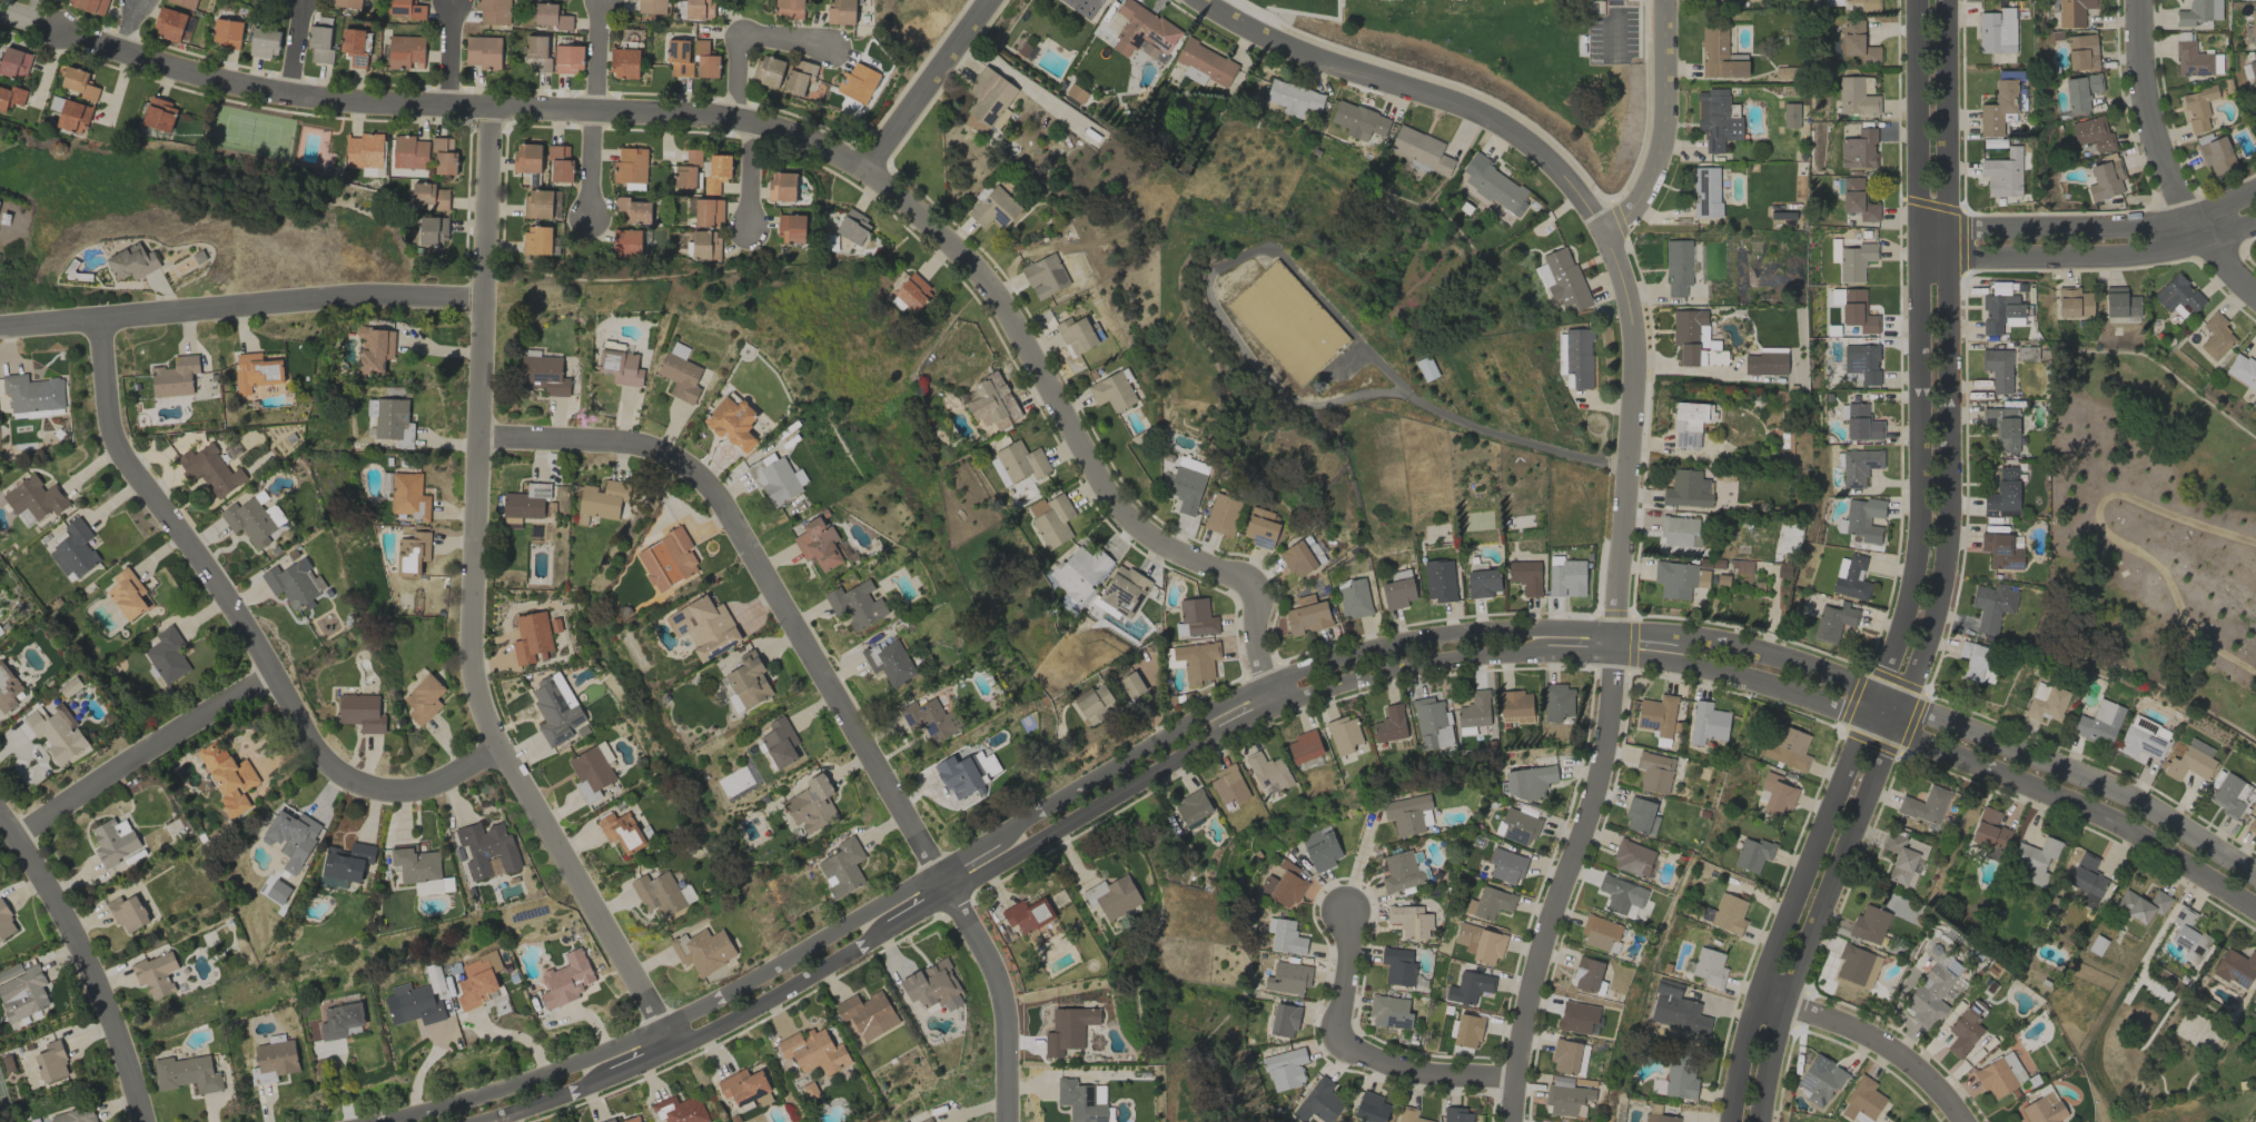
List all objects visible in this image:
building: (184, 2)
building: (346, 3)
building: (89, 4)
building: (1864, 4)
building: (651, 6)
building: (1084, 6)
building: (699, 9)
building: (789, 9)
road: (31, 10)
building: (405, 10)
building: (494, 11)
building: (841, 11)
building: (2072, 12)
building: (2194, 13)
road: (17, 17)
building: (551, 17)
road: (1615, 22)
building: (169, 23)
road: (128, 24)
building: (2253, 26)
building: (1139, 29)
building: (1997, 31)
building: (227, 33)
road: (740, 36)
building: (264, 42)
building: (1858, 42)
building: (319, 43)
road: (296, 47)
building: (353, 47)
building: (405, 51)
building: (483, 51)
road: (451, 52)
building: (537, 52)
building: (2081, 52)
building: (1719, 54)
road: (594, 57)
building: (568, 58)
building: (679, 59)
building: (704, 60)
building: (2191, 60)
building: (13, 62)
building: (624, 62)
building: (1205, 64)
building: (768, 71)
building: (2254, 76)
building: (799, 77)
building: (77, 82)
building: (858, 82)
road: (930, 87)
road: (1423, 91)
building: (2080, 92)
building: (1075, 93)
building: (11, 97)
building: (990, 97)
building: (1857, 97)
building: (1293, 98)
building: (2255, 103)
building: (2198, 108)
building: (1997, 109)
building: (159, 115)
building: (1790, 115)
building: (73, 116)
building: (1715, 119)
building: (1358, 120)
road: (1660, 122)
park: (249, 132)
building: (2091, 133)
road: (811, 142)
building: (1419, 149)
building: (363, 150)
building: (1859, 150)
building: (409, 152)
building: (443, 155)
building: (526, 158)
building: (560, 162)
road: (2163, 162)
building: (630, 166)
road: (590, 167)
building: (702, 171)
building: (2002, 173)
road: (746, 176)
building: (2107, 177)
building: (781, 186)
building: (1494, 186)
building: (1705, 192)
building: (429, 196)
building: (1857, 200)
building: (538, 203)
building: (993, 208)
building: (633, 210)
building: (708, 212)
building: (852, 227)
road: (2089, 227)
building: (791, 228)
building: (432, 230)
building: (536, 239)
building: (625, 242)
building: (704, 245)
building: (1833, 249)
road: (2088, 258)
building: (131, 261)
building: (1854, 261)
building: (1678, 267)
building: (1045, 276)
building: (1562, 280)
building: (912, 291)
building: (2177, 295)
road: (241, 301)
building: (2074, 304)
building: (2120, 304)
building: (1858, 311)
building: (1076, 335)
building: (2216, 337)
building: (1694, 339)
building: (375, 348)
building: (679, 350)
building: (1574, 358)
building: (1764, 364)
building: (1861, 364)
building: (622, 367)
building: (1426, 368)
building: (1998, 369)
building: (2242, 370)
building: (256, 371)
building: (543, 375)
building: (175, 376)
building: (680, 377)
building: (1111, 391)
building: (32, 393)
building: (991, 404)
building: (392, 420)
building: (732, 423)
building: (1690, 423)
building: (1860, 424)
building: (2002, 427)
road: (476, 431)
road: (1491, 433)
building: (1021, 461)
building: (1859, 466)
building: (211, 469)
building: (774, 479)
building: (1186, 488)
building: (1686, 489)
building: (2003, 490)
building: (408, 496)
building: (34, 498)
building: (604, 499)
building: (525, 502)
building: (1221, 514)
building: (1051, 519)
building: (1862, 519)
building: (248, 522)
building: (1680, 532)
park: (2150, 532)
building: (818, 544)
building: (75, 549)
building: (2000, 552)
building: (413, 553)
building: (667, 559)
building: (1297, 559)
building: (1742, 564)
building: (1080, 572)
track: (2194, 572)
building: (1525, 576)
road: (1911, 576)
road: (1939, 576)
building: (1566, 578)
building: (1439, 579)
building: (1678, 579)
building: (1852, 579)
building: (294, 583)
building: (1483, 583)
building: (1124, 590)
building: (127, 593)
building: (1397, 593)
building: (1354, 598)
building: (857, 604)
building: (1991, 606)
building: (1307, 615)
building: (1196, 617)
building: (1833, 622)
road: (238, 625)
building: (703, 626)
building: (531, 637)
building: (167, 655)
building: (1196, 661)
building: (889, 662)
building: (1977, 662)
road: (1297, 674)
building: (748, 681)
road: (1611, 683)
road: (1348, 684)
building: (1131, 685)
building: (7, 688)
road: (827, 689)
building: (423, 698)
building: (1556, 702)
building: (2046, 702)
building: (1094, 704)
building: (1515, 706)
building: (555, 709)
building: (1475, 709)
building: (362, 712)
building: (1656, 715)
building: (930, 718)
building: (1432, 723)
building: (1708, 723)
building: (2099, 723)
building: (1389, 724)
building: (57, 732)
building: (1344, 734)
building: (2141, 739)
building: (780, 743)
building: (1304, 746)
building: (1788, 748)
road: (141, 757)
building: (2190, 761)
building: (1268, 771)
building: (590, 772)
building: (967, 772)
building: (1654, 772)
building: (227, 777)
building: (1527, 782)
building: (1228, 785)
building: (1777, 795)
building: (2227, 796)
building: (811, 804)
building: (1191, 806)
building: (1924, 806)
building: (1406, 814)
building: (1641, 816)
building: (2253, 824)
building: (1517, 826)
building: (1990, 830)
building: (621, 831)
building: (291, 837)
building: (113, 841)
building: (486, 848)
building: (1320, 848)
building: (1752, 854)
building: (1992, 854)
building: (1632, 858)
building: (1903, 858)
road: (1357, 860)
building: (2036, 860)
building: (347, 861)
building: (415, 863)
building: (1505, 865)
building: (842, 867)
building: (1401, 872)
building: (2087, 878)
building: (1287, 885)
building: (432, 886)
building: (277, 891)
building: (657, 894)
building: (1621, 894)
building: (1112, 896)
road: (585, 900)
building: (1490, 903)
building: (2141, 905)
building: (128, 912)
building: (1028, 914)
building: (1725, 914)
building: (1409, 921)
building: (6, 923)
building: (1869, 924)
building: (1599, 932)
building: (2189, 935)
building: (1285, 936)
building: (1480, 943)
building: (703, 950)
road: (83, 965)
building: (1398, 965)
building: (1857, 965)
building: (1709, 967)
building: (2236, 967)
building: (156, 973)
building: (1586, 974)
building: (1288, 977)
building: (566, 979)
building: (477, 980)
building: (933, 985)
building: (1470, 987)
building: (1930, 995)
building: (413, 1004)
building: (1676, 1010)
building: (1389, 1012)
building: (867, 1014)
building: (1577, 1017)
building: (339, 1020)
building: (1284, 1020)
building: (1965, 1029)
building: (1068, 1030)
building: (1467, 1030)
road: (1869, 1042)
road: (1356, 1049)
building: (813, 1051)
building: (1569, 1056)
building: (273, 1061)
building: (51, 1062)
building: (1284, 1069)
building: (186, 1073)
building: (1999, 1074)
building: (1819, 1080)
building: (1680, 1081)
building: (744, 1088)
building: (1564, 1096)
building: (1082, 1100)
building: (1862, 1101)
building: (1319, 1102)
building: (1371, 1108)
building: (2042, 1109)
building: (679, 1110)
building: (75, 1115)
building: (1409, 1115)
building: (1457, 1116)
building: (1660, 1118)
building: (631, 1119)
building: (608, 1120)
building: (926, 1120)

